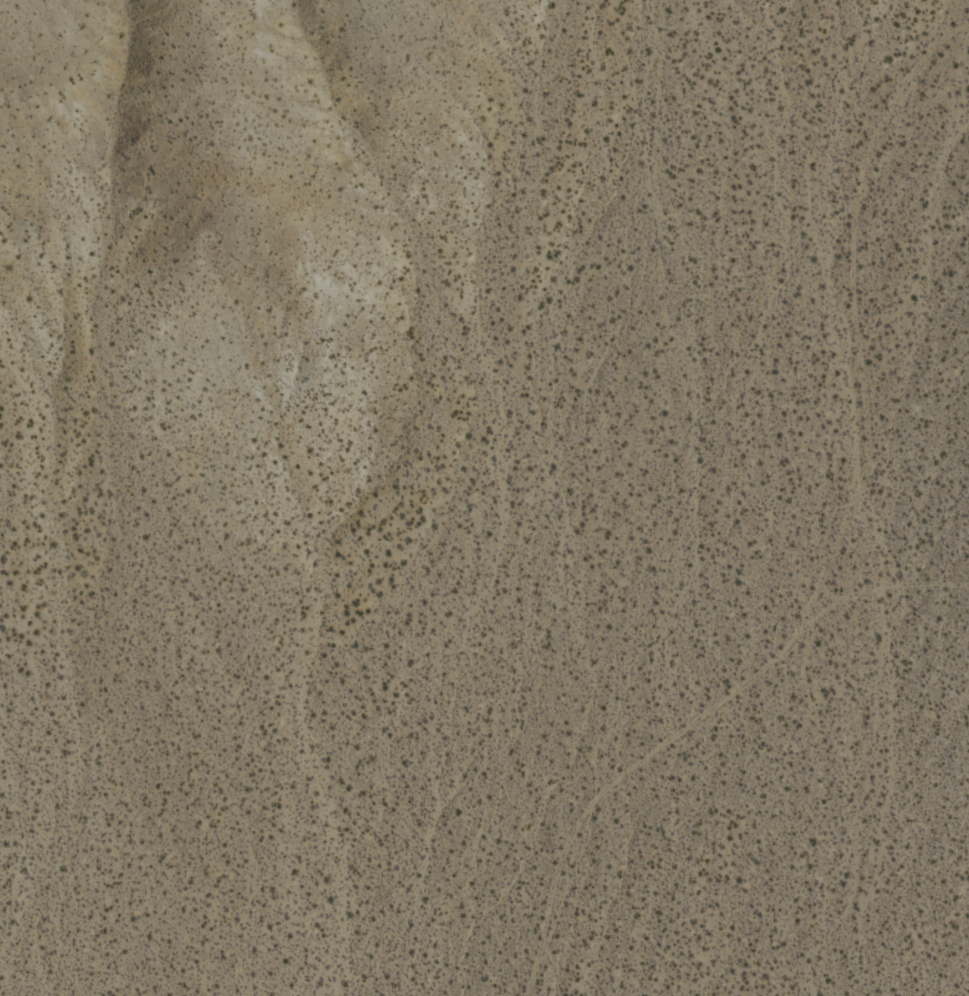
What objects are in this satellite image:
road: (859, 299)
road: (684, 721)

